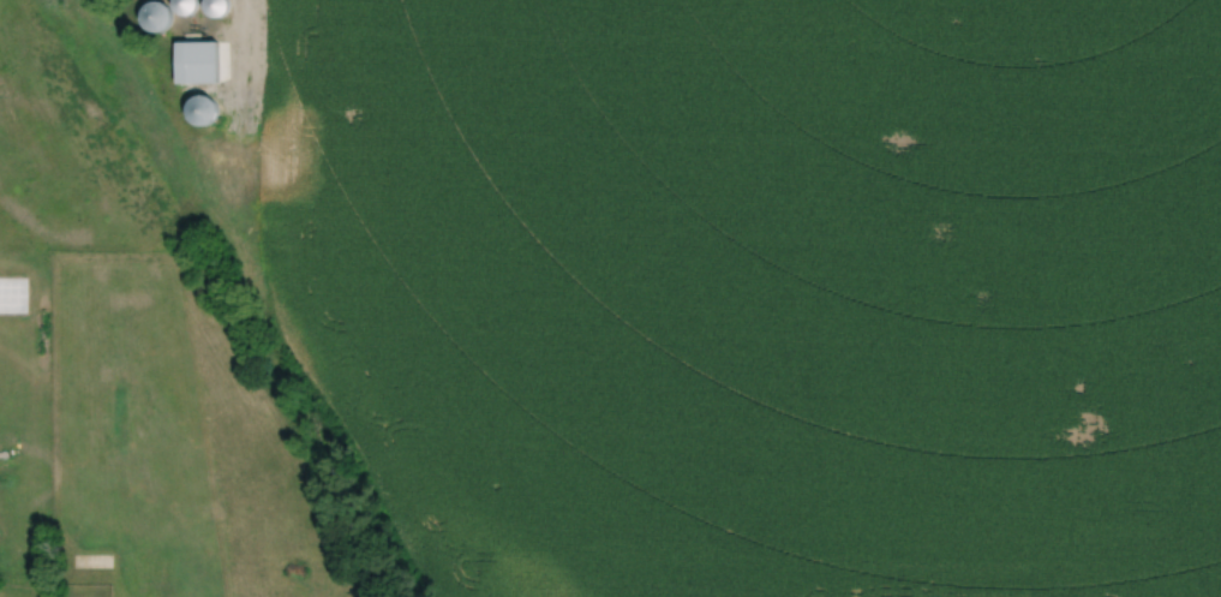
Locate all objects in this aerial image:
building: (188, 5)
building: (217, 6)
building: (157, 14)
building: (199, 61)
road: (250, 68)
building: (204, 109)

